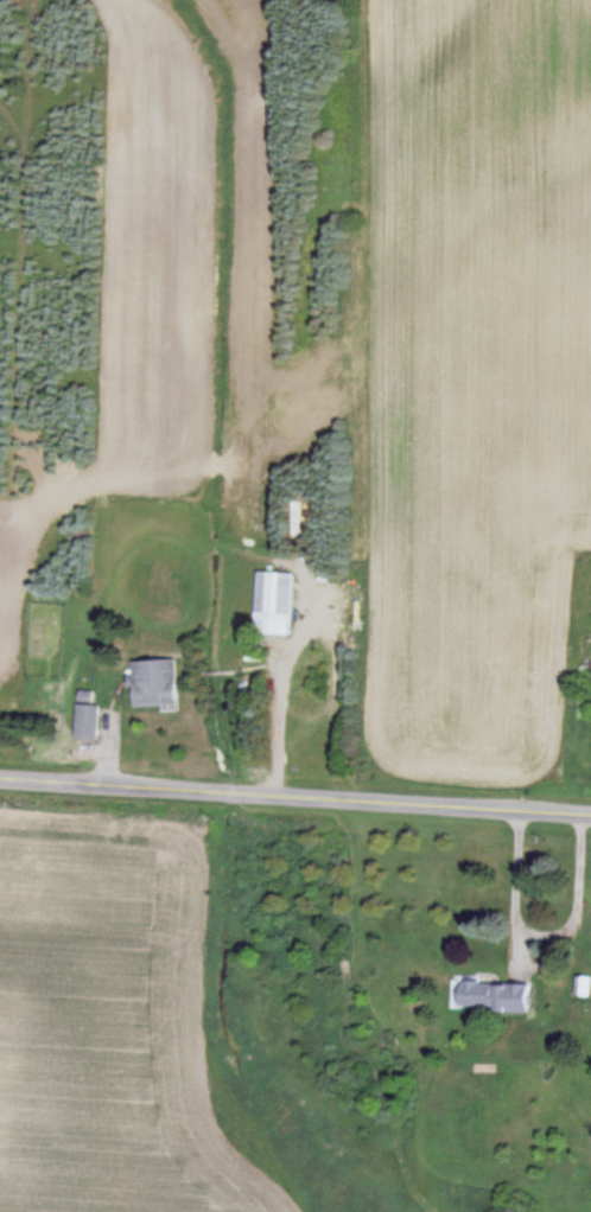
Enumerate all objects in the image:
building: (273, 602)
building: (154, 683)
building: (85, 722)
road: (294, 798)
building: (489, 996)

